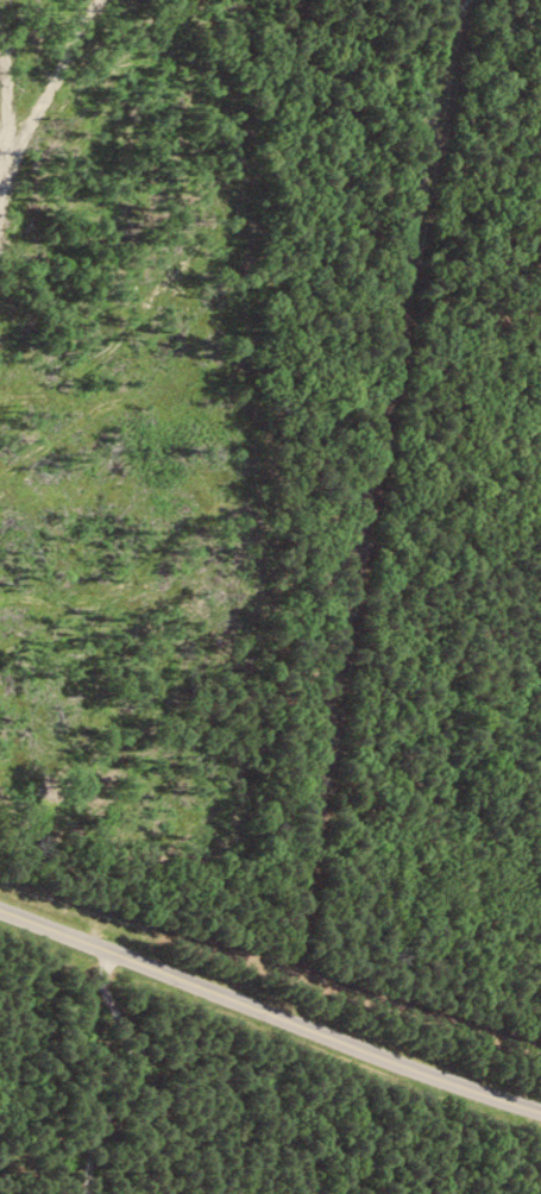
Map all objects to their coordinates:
road: (185, 514)
road: (269, 1016)

